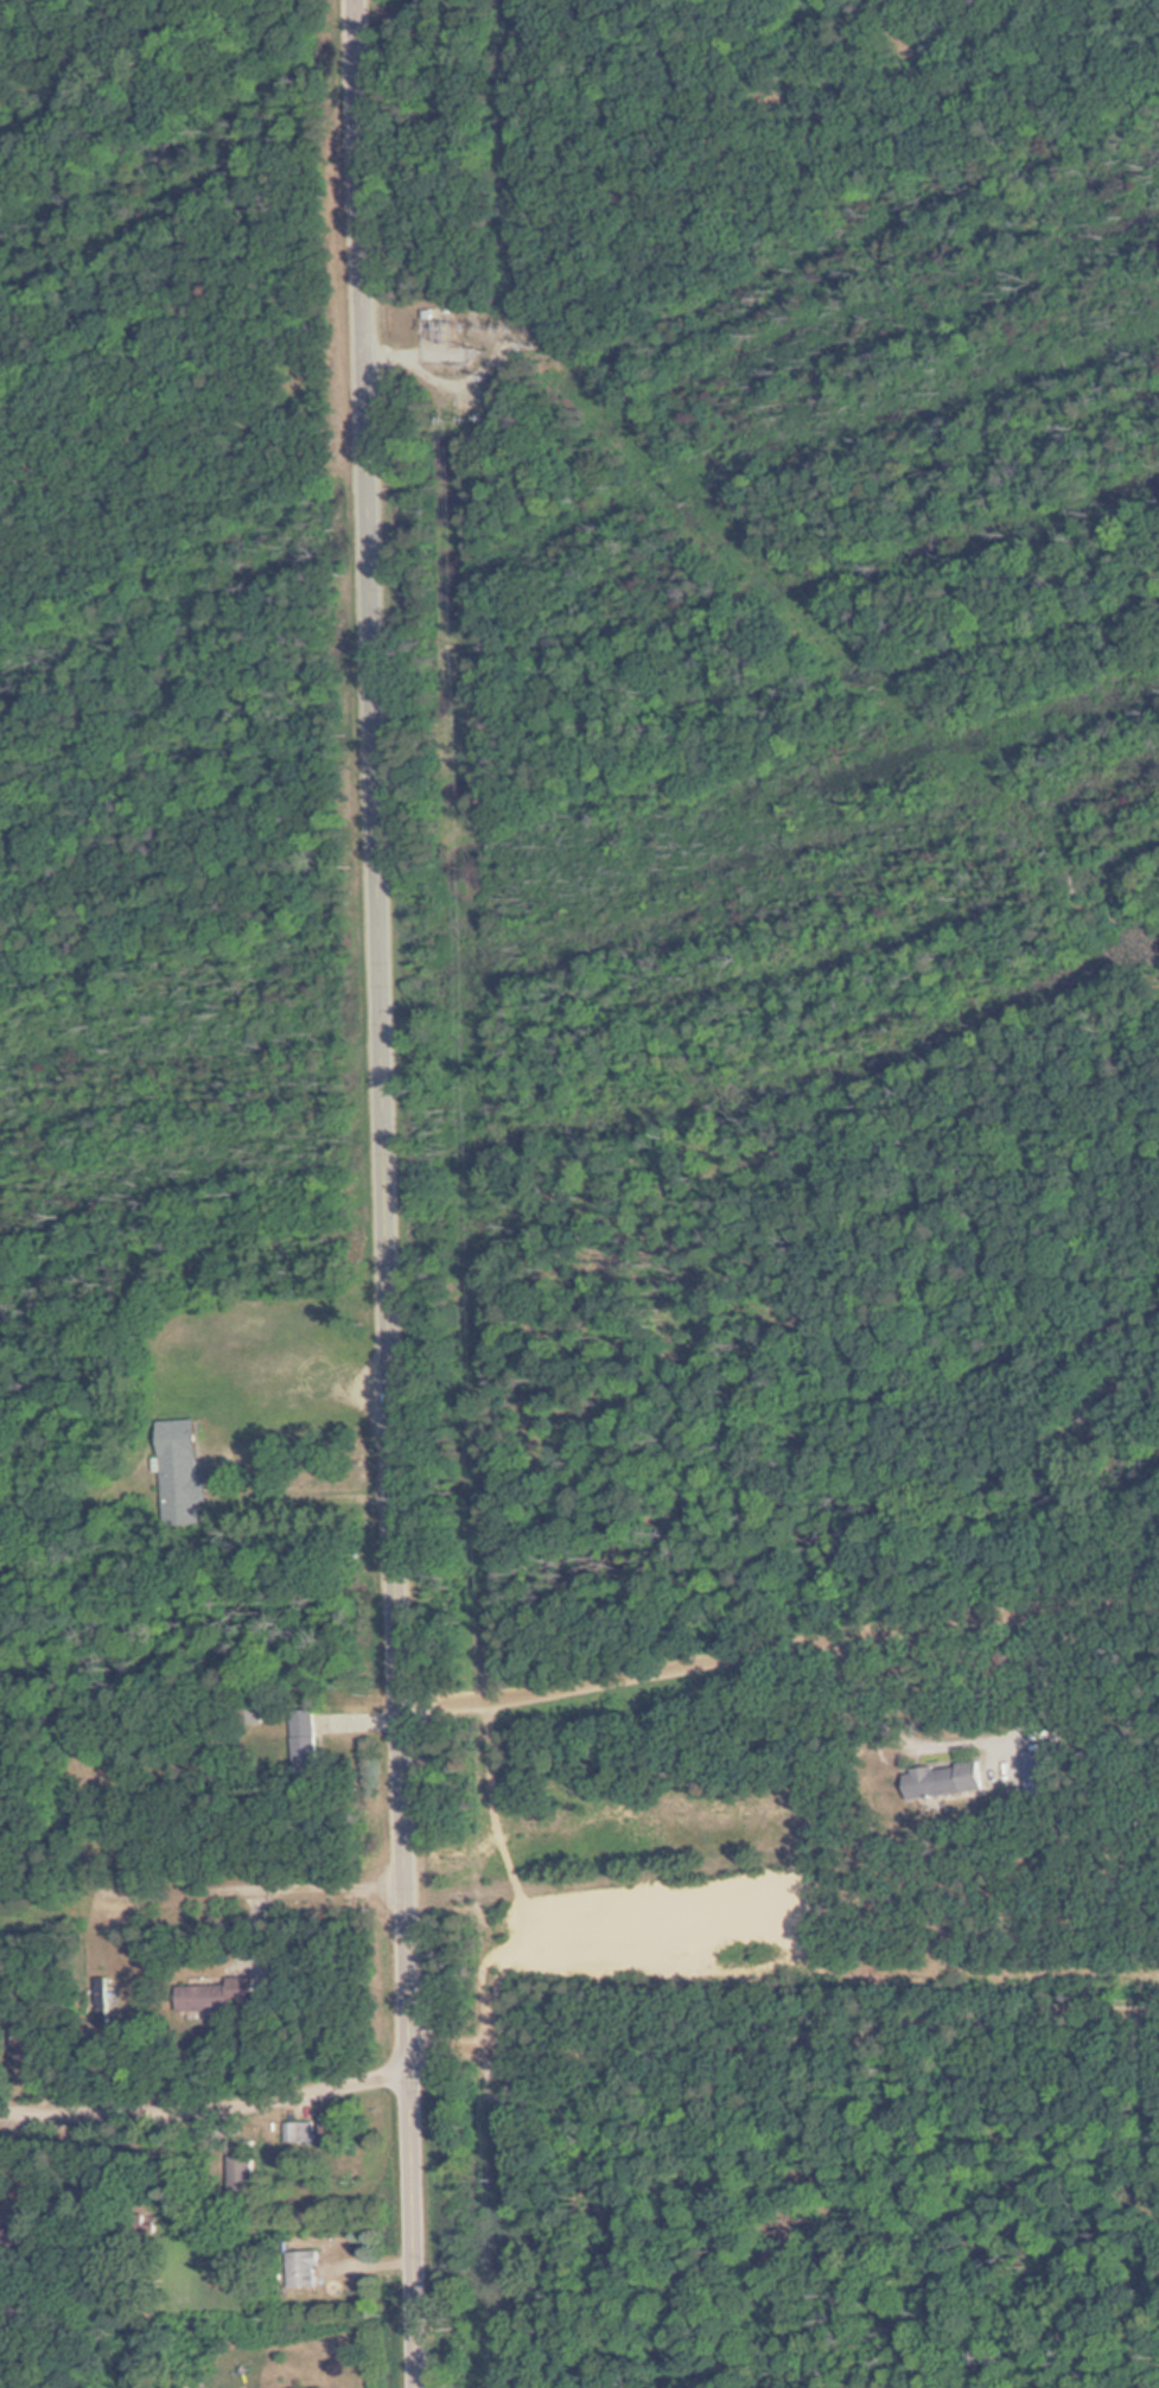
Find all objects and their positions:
power substation: (461, 330)
road: (386, 1193)
road: (173, 1312)
building: (182, 1472)
road: (778, 1650)
building: (305, 1739)
building: (1037, 1768)
building: (944, 1781)
road: (203, 1842)
building: (219, 1997)
road: (784, 2048)
road: (208, 2091)
building: (335, 2131)
building: (299, 2134)
building: (306, 2263)

